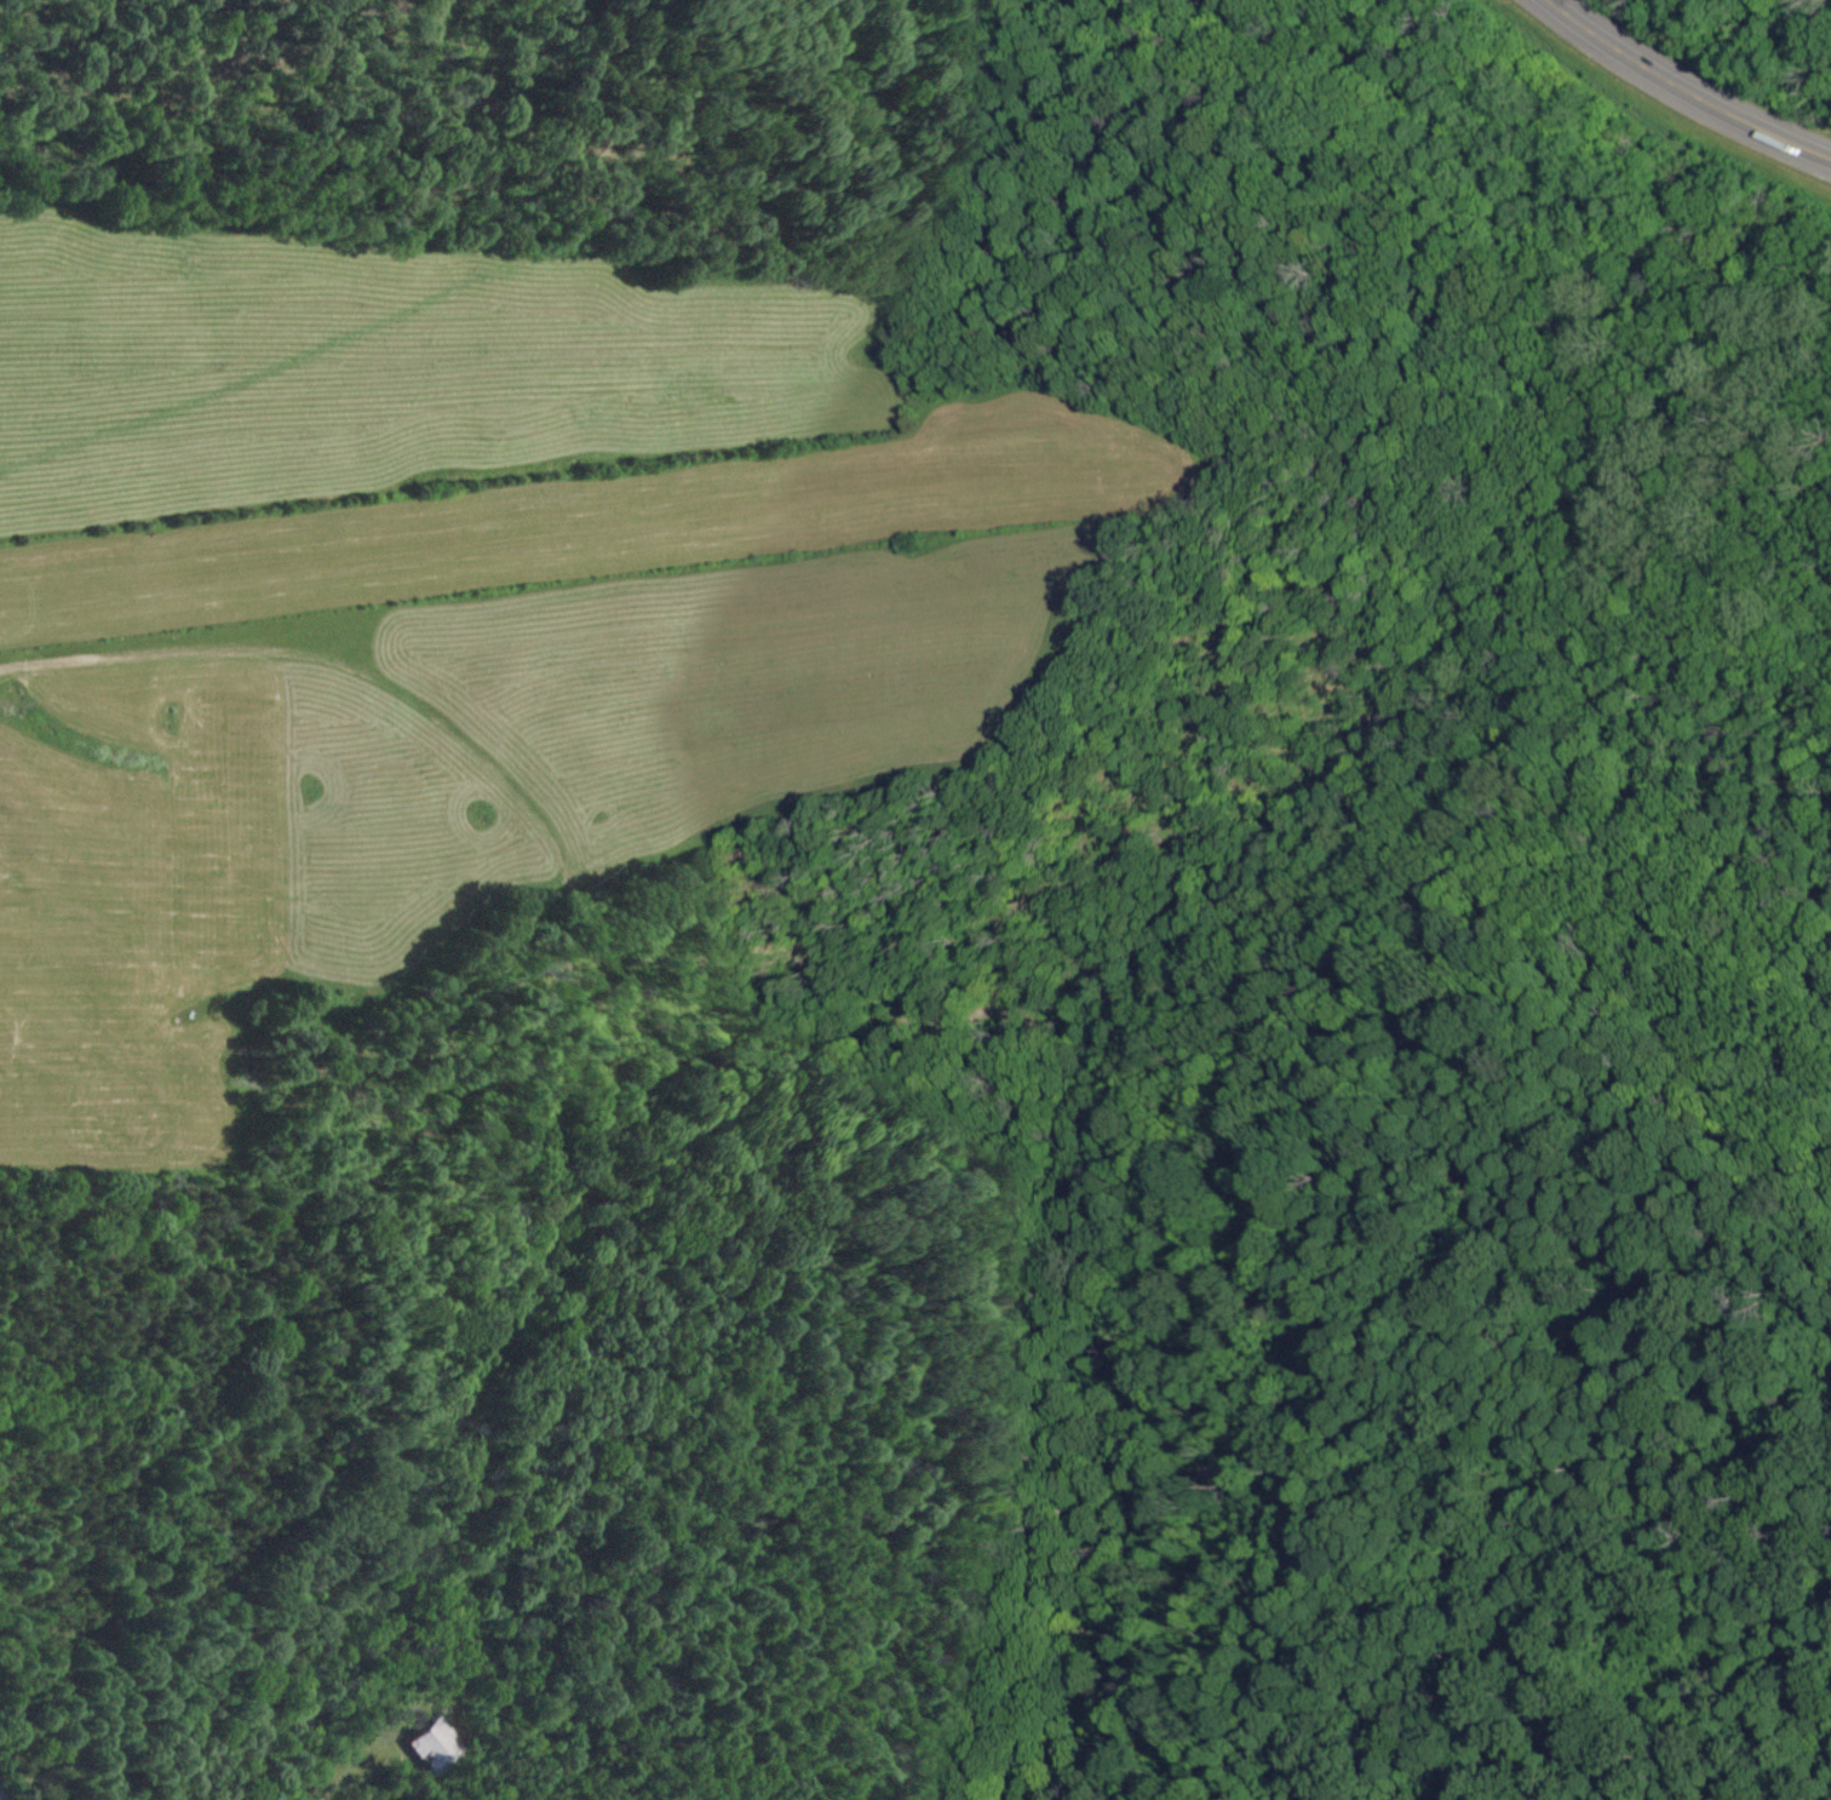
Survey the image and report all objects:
road: (1682, 91)
airport: (608, 523)
airport runway: (567, 535)
building: (435, 1745)
road: (1, 1798)

